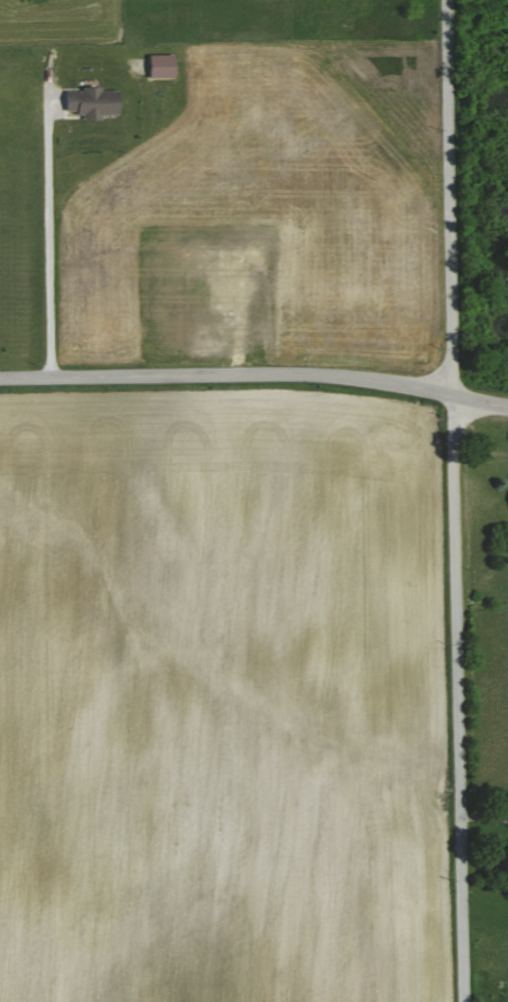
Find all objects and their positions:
building: (163, 66)
building: (94, 102)
road: (51, 233)
road: (255, 374)
road: (452, 501)

